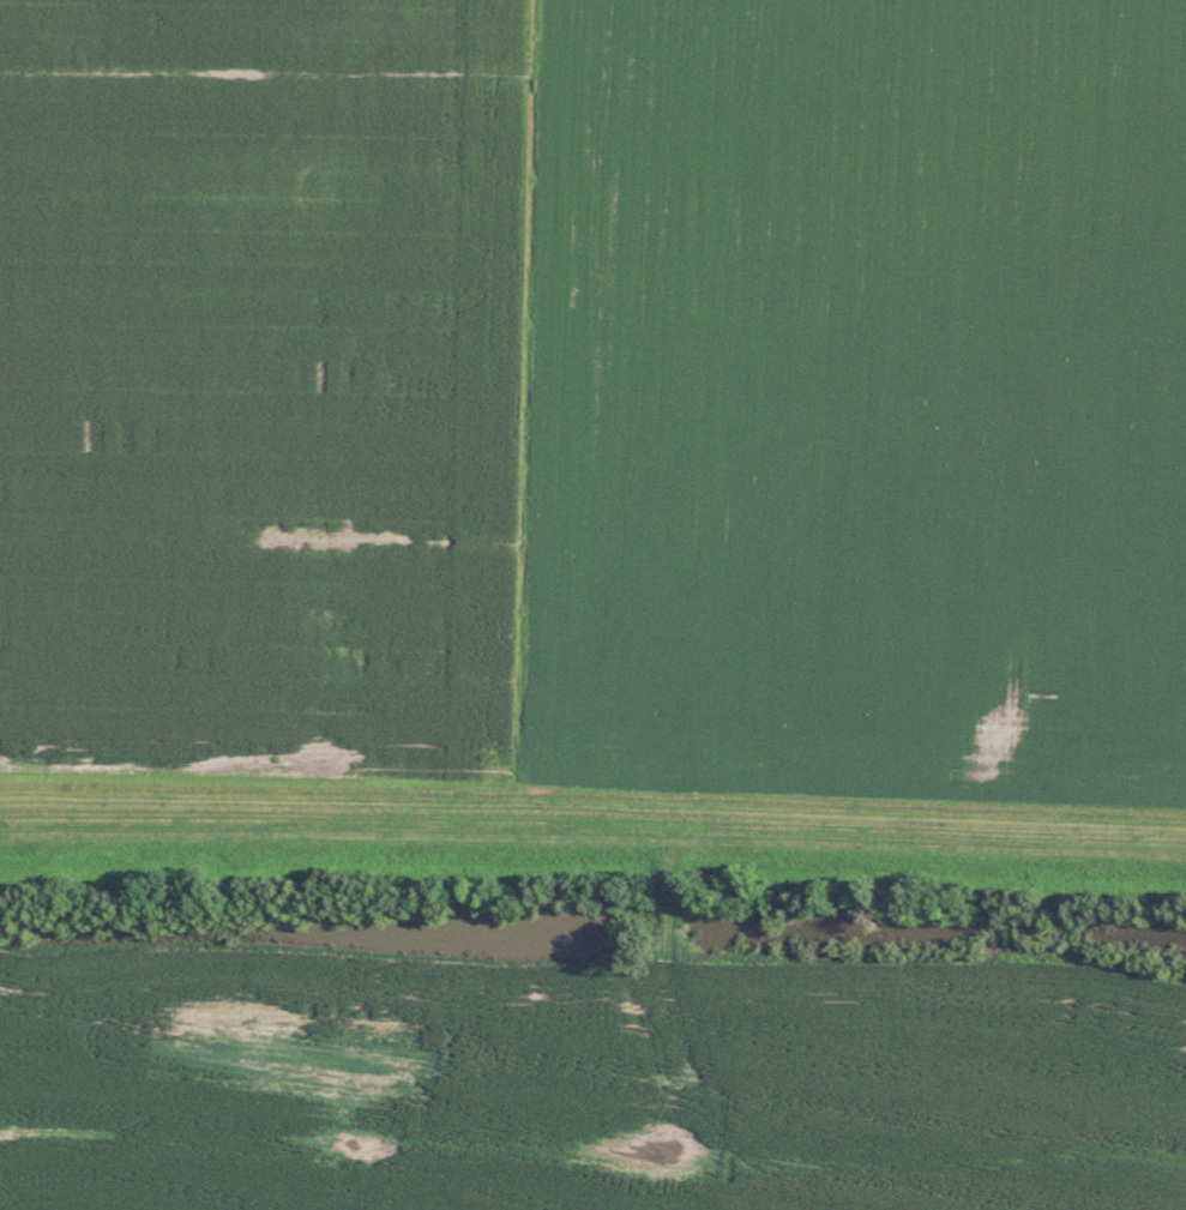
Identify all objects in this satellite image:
crop: (600, 379)

